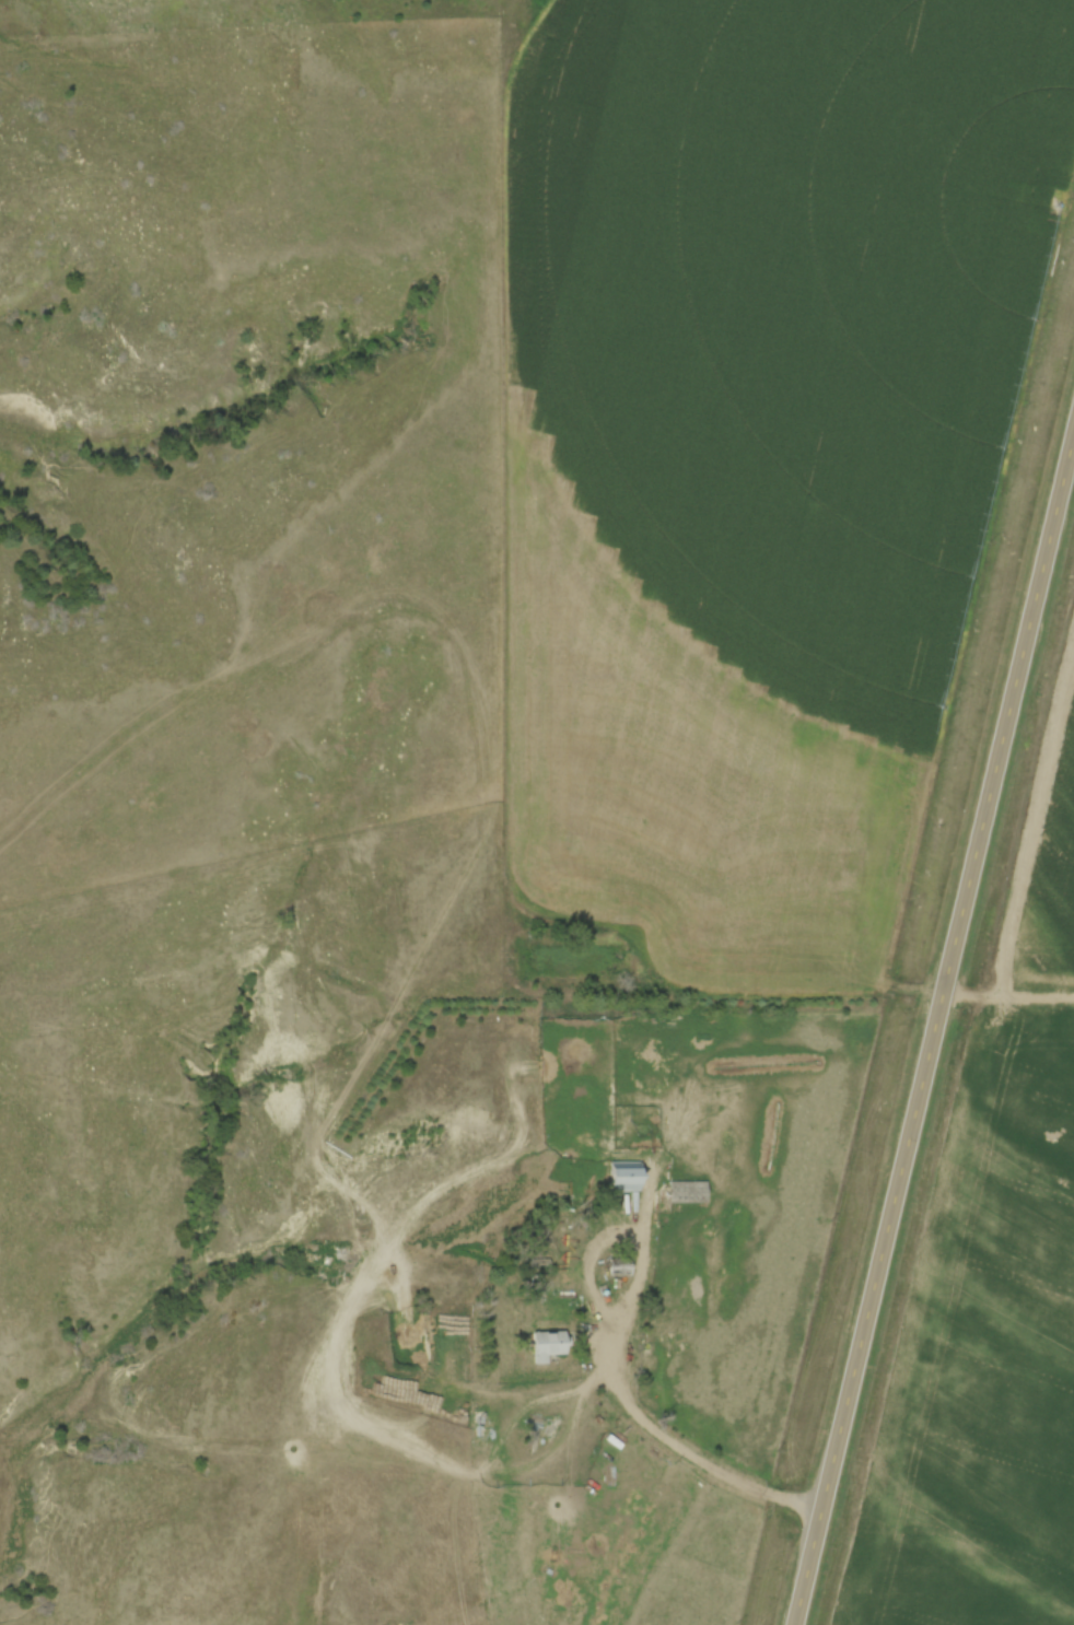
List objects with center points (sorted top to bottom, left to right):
road: (933, 1024)
building: (624, 1176)
building: (686, 1192)
road: (587, 1258)
building: (540, 1263)
building: (619, 1270)
building: (548, 1346)
road: (690, 1454)

